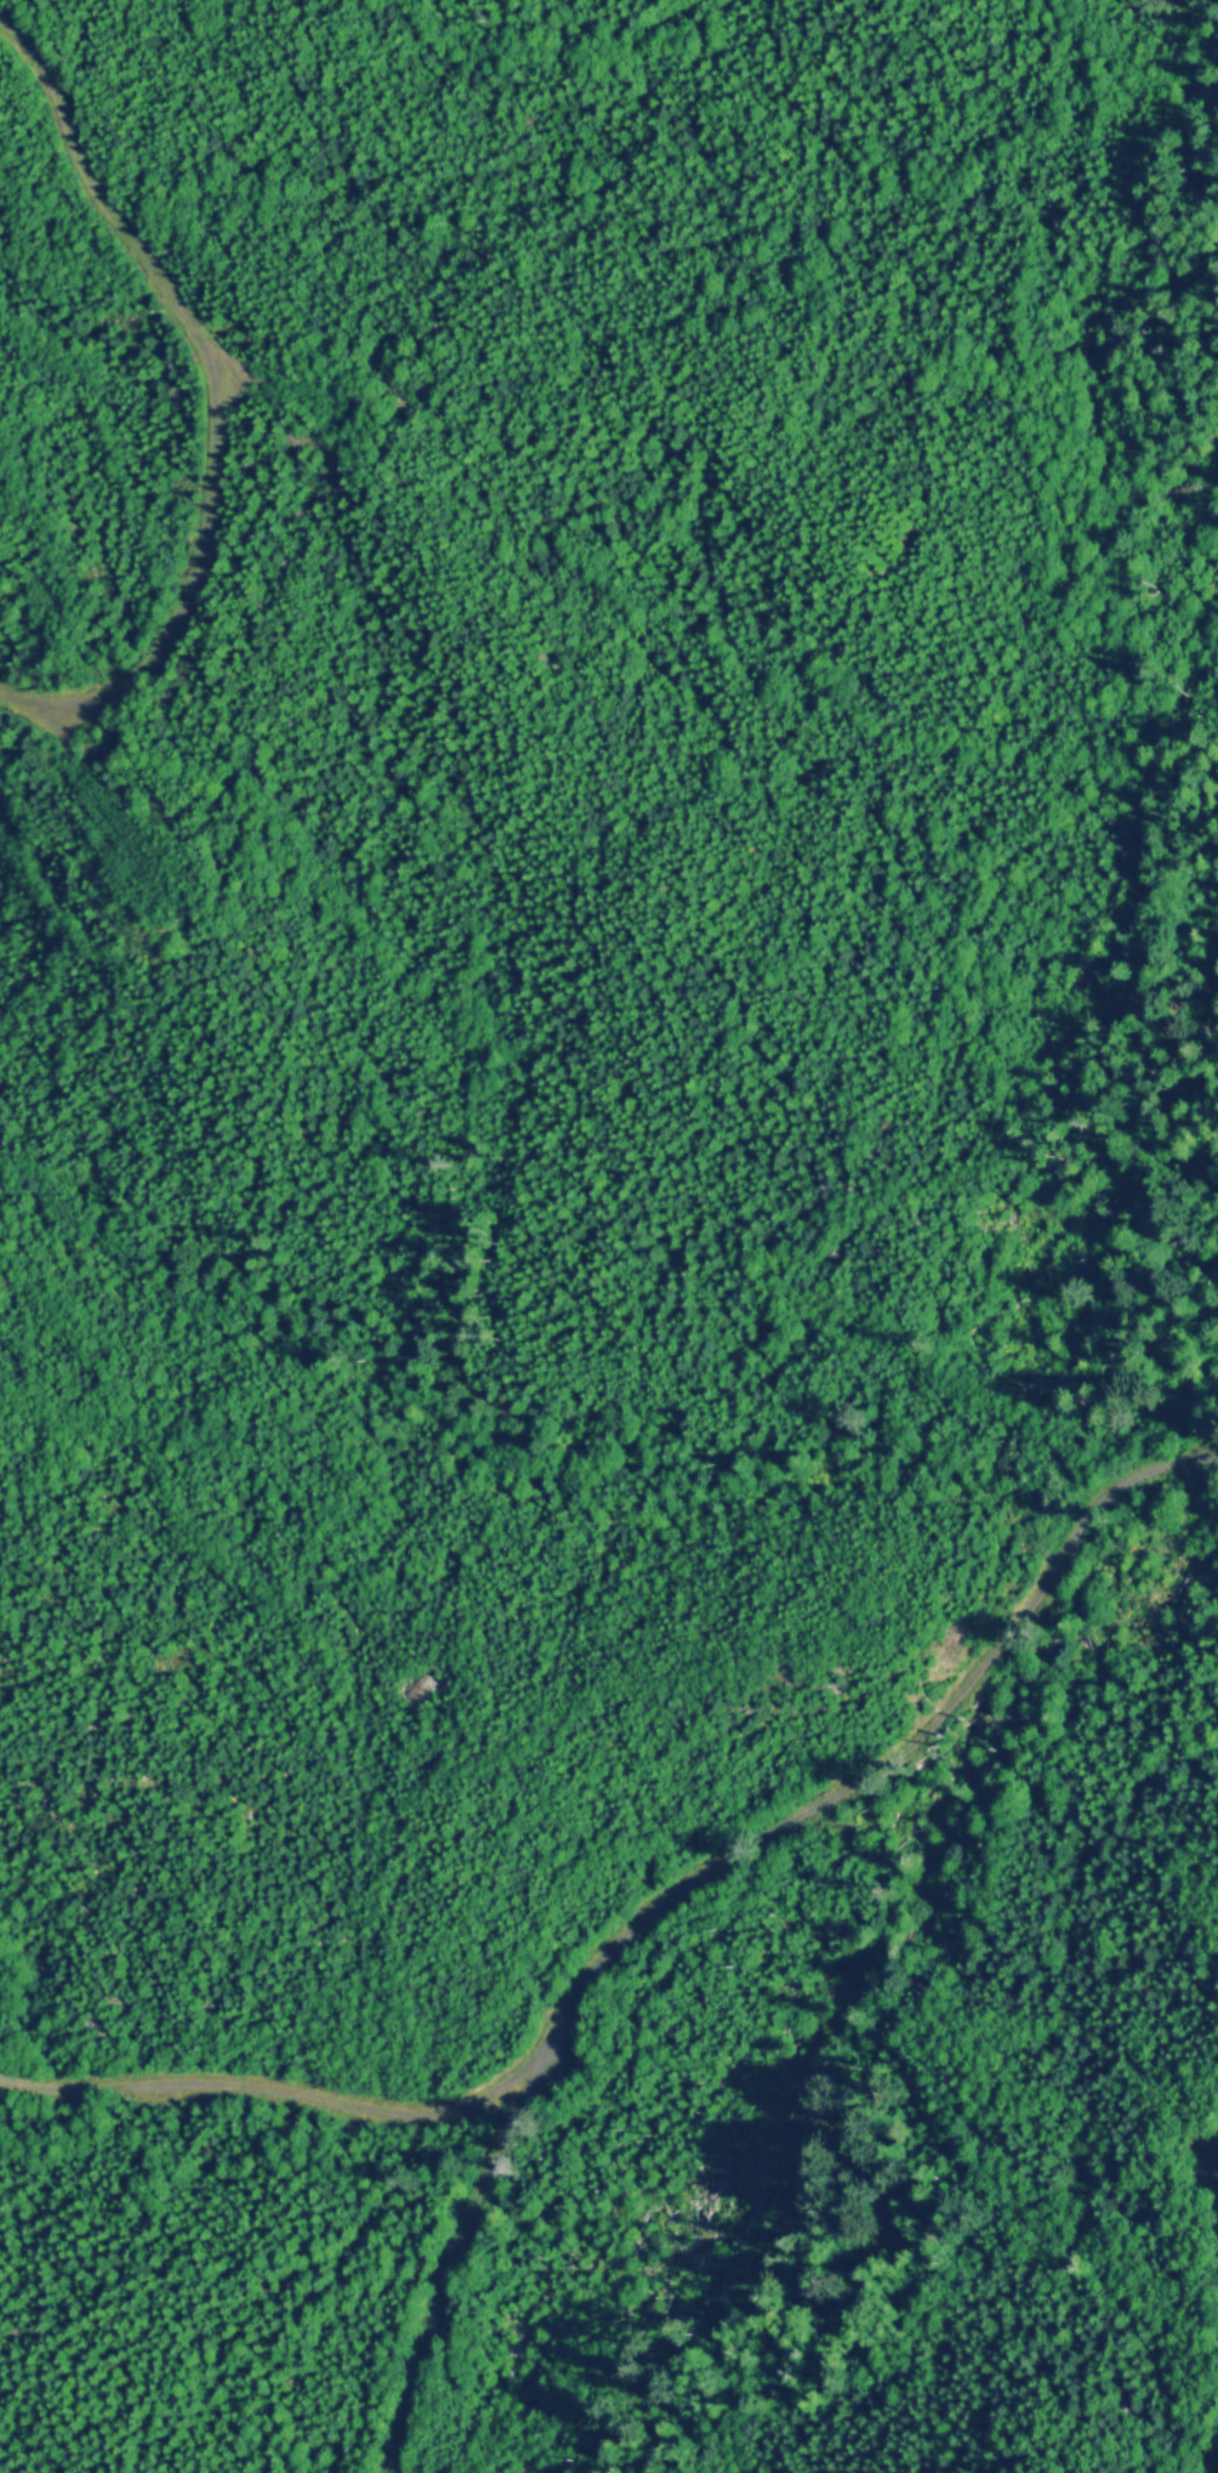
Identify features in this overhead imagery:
road: (142, 444)
road: (677, 1919)
road: (449, 2282)

